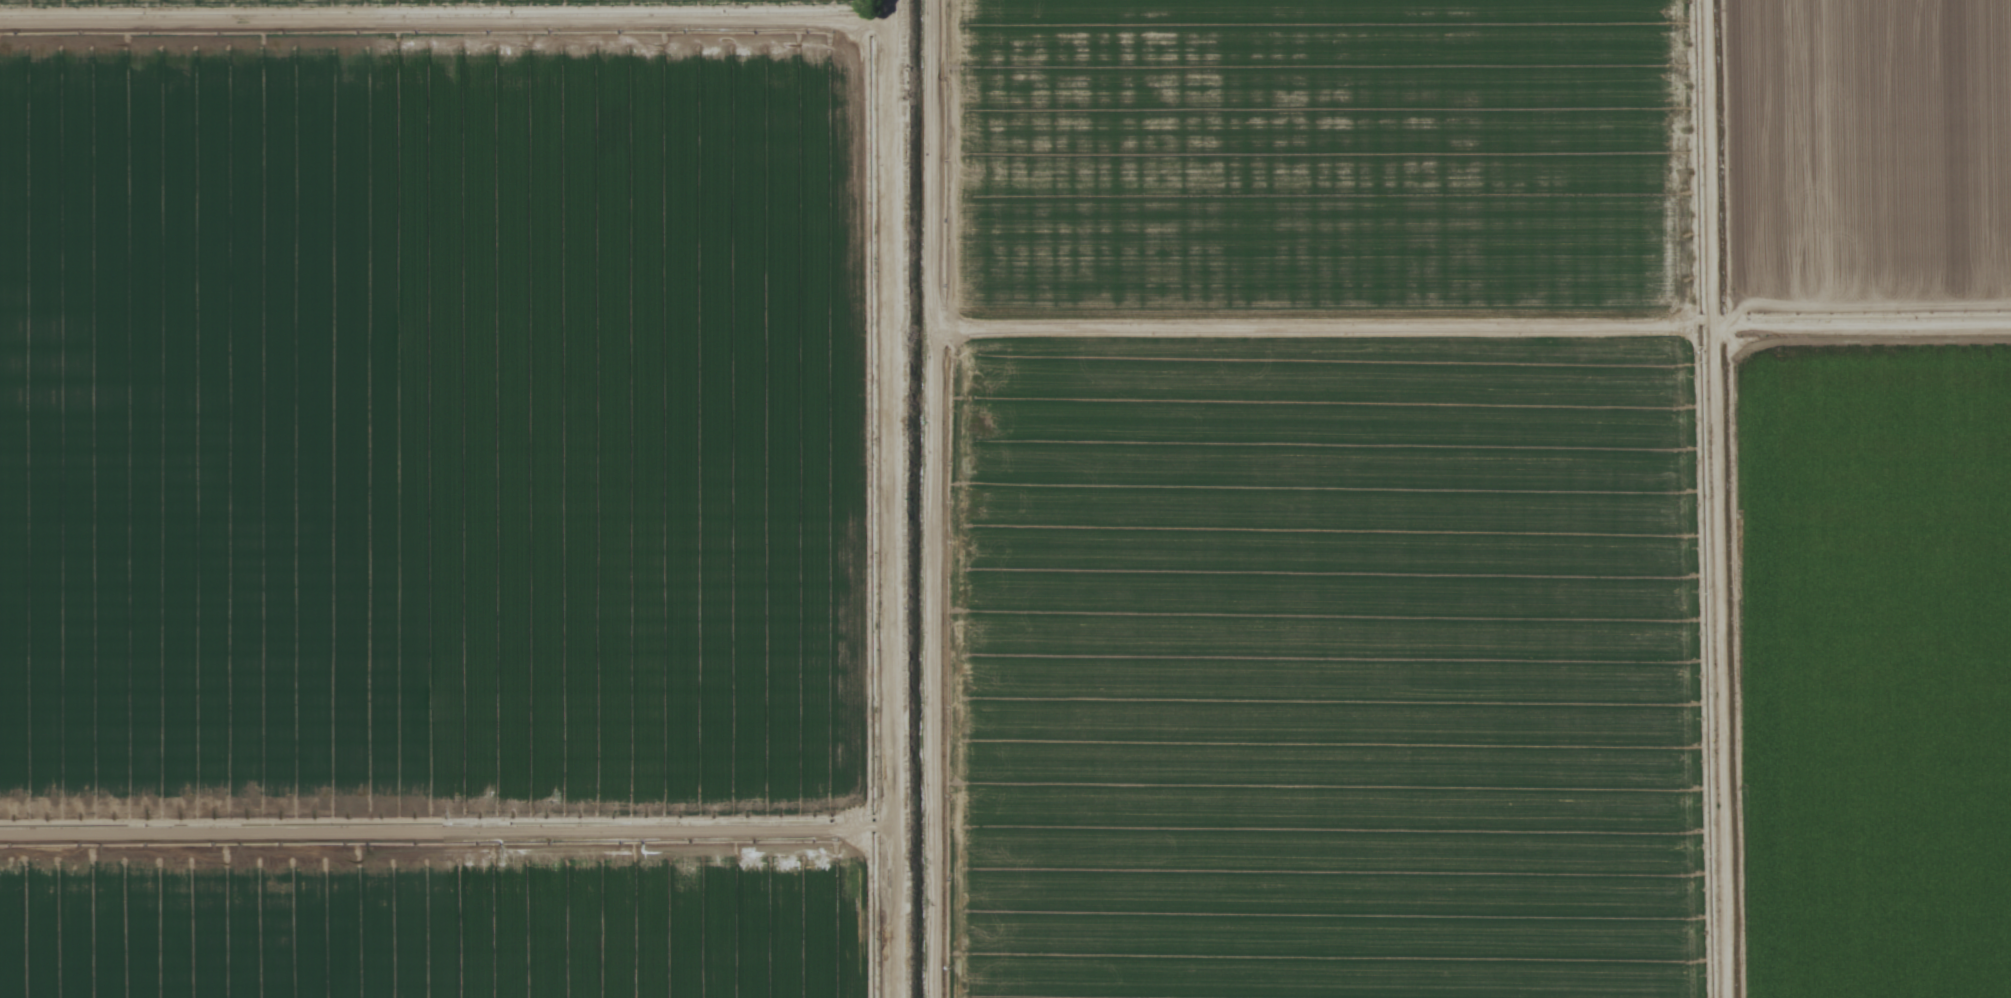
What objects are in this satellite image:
road: (897, 498)

